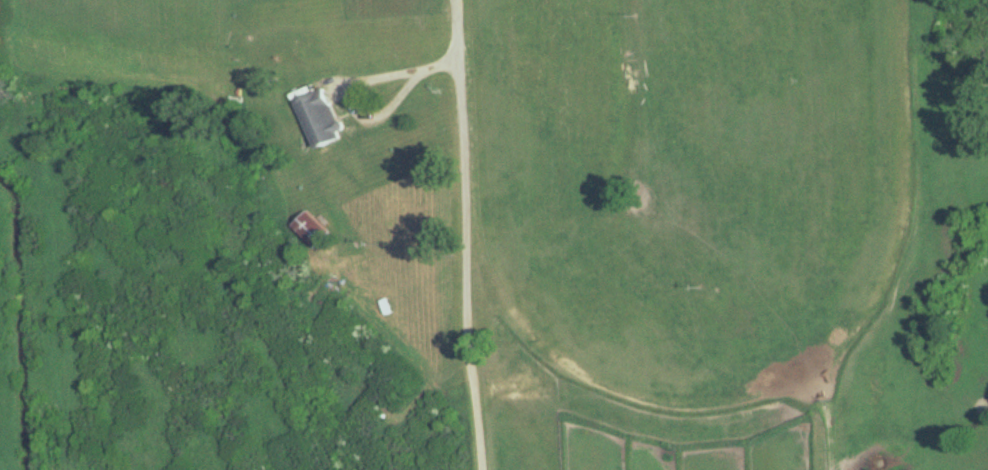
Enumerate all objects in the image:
road: (364, 108)
building: (324, 118)
building: (310, 230)
road: (466, 235)
building: (383, 307)

